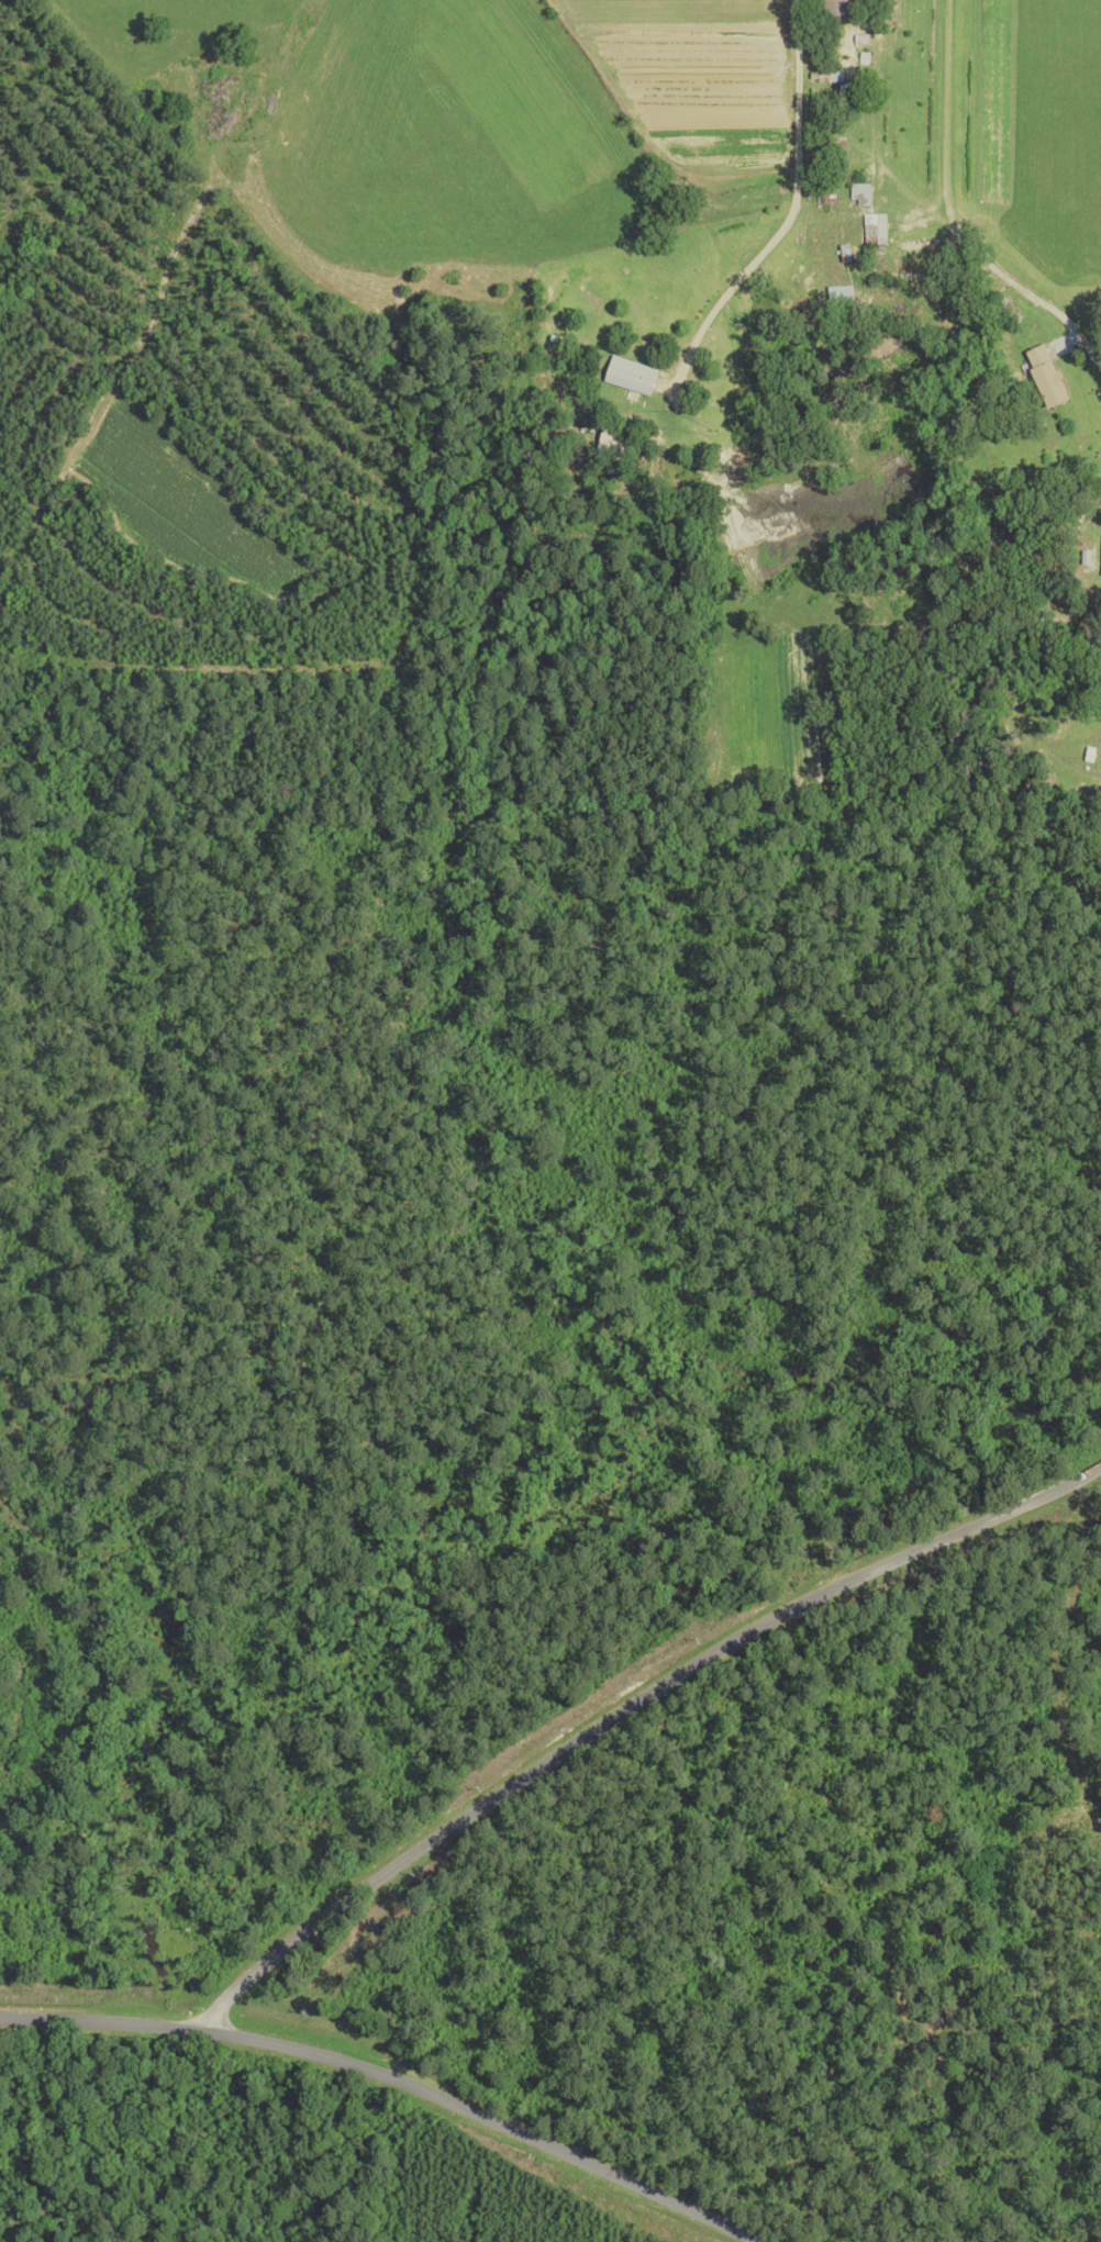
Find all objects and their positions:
building: (845, 12)
building: (833, 74)
road: (721, 143)
building: (881, 231)
road: (933, 252)
building: (845, 297)
building: (636, 377)
building: (1050, 378)
road: (625, 1677)
road: (392, 2071)

